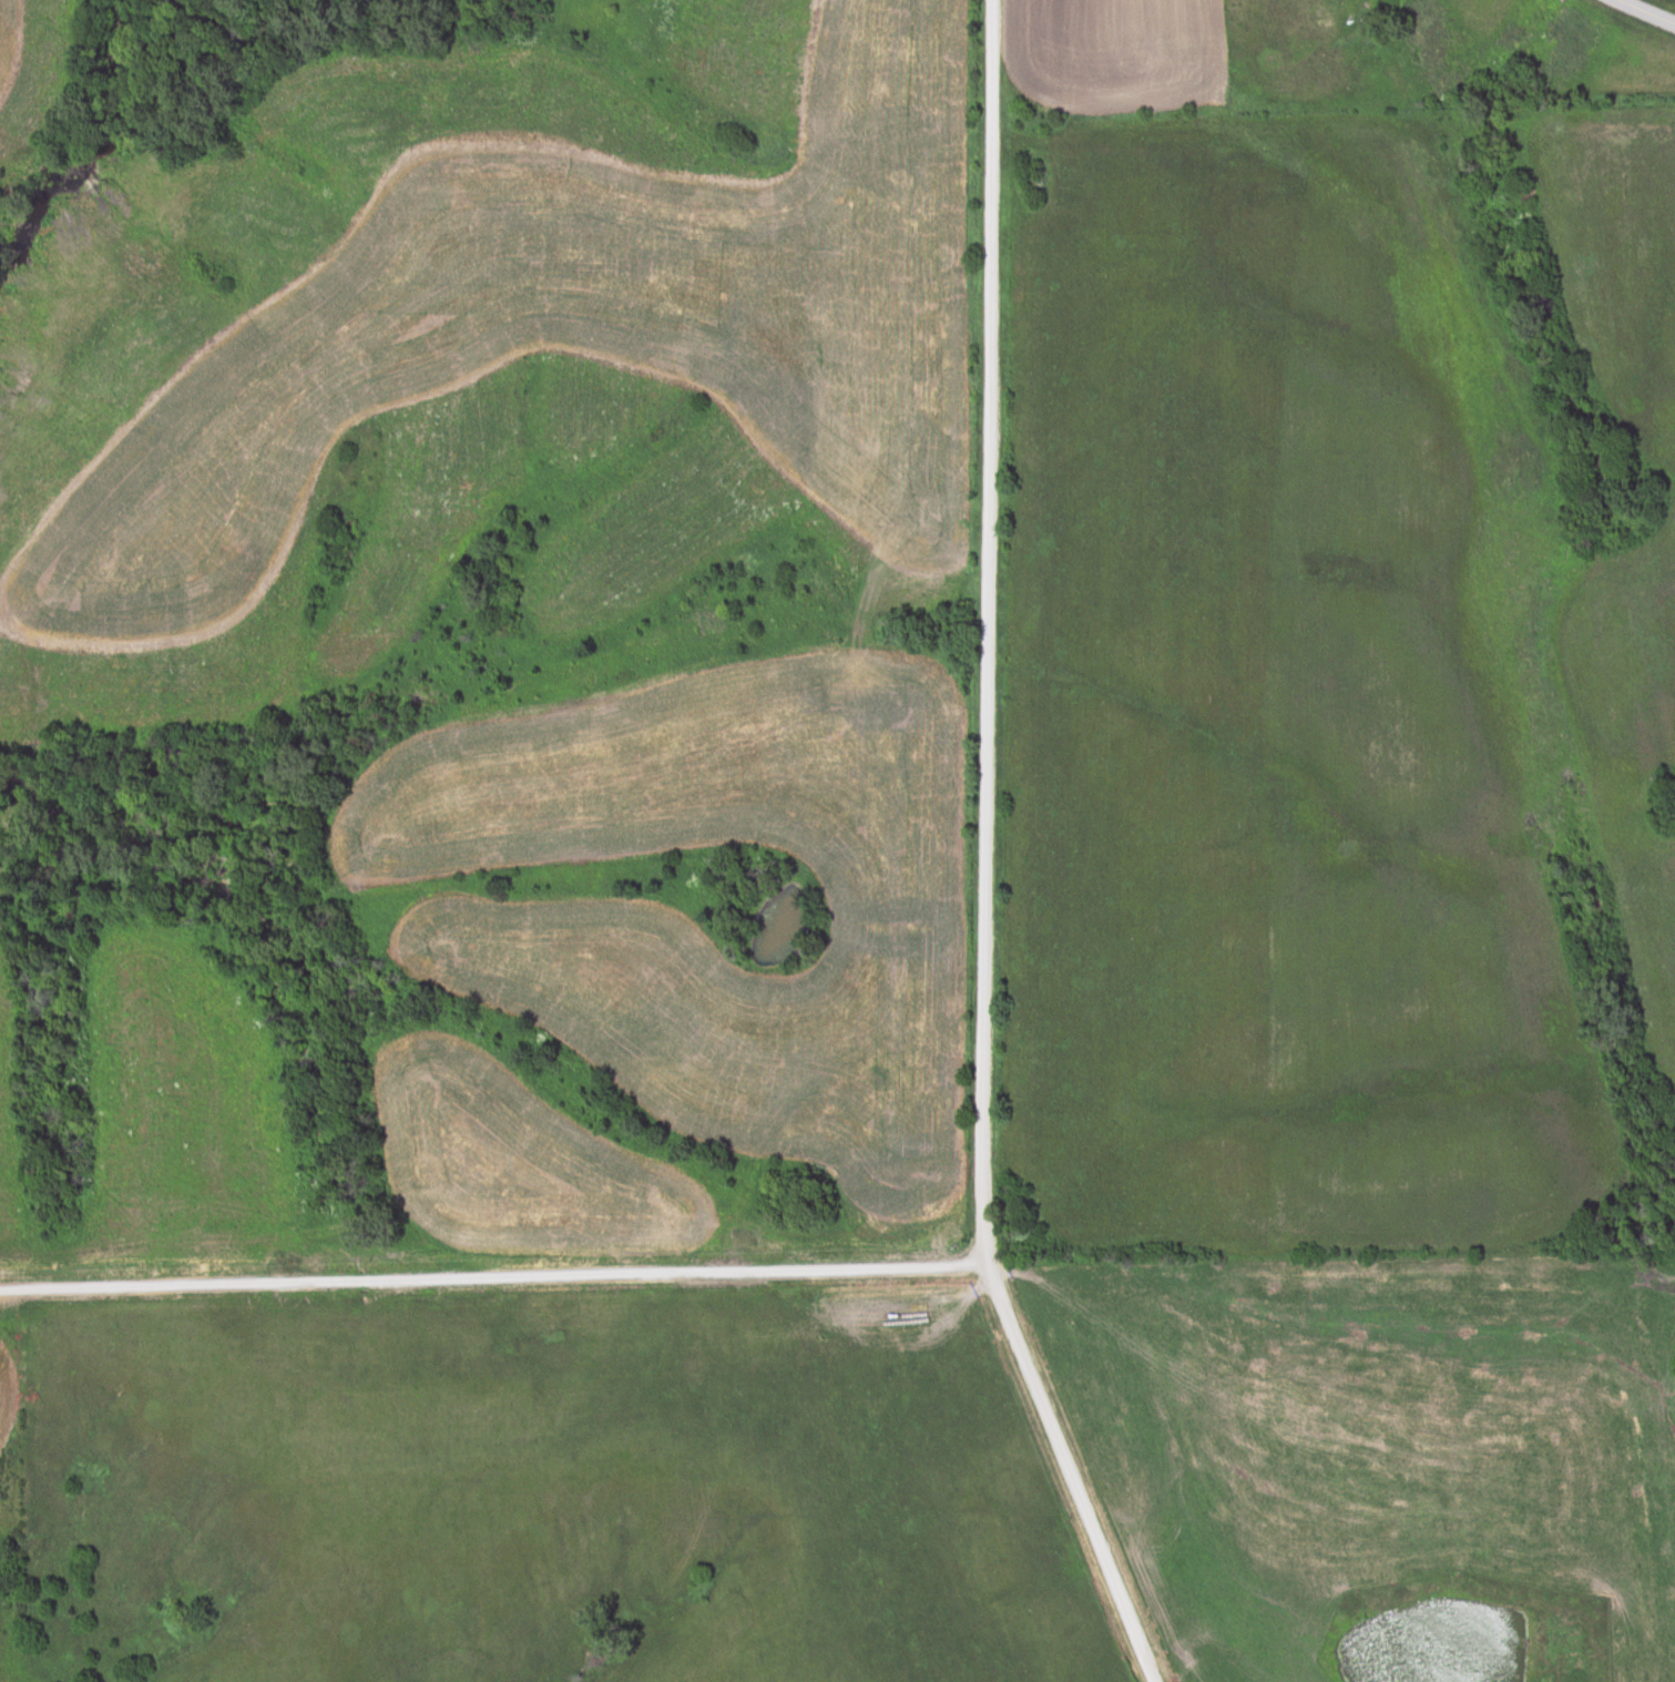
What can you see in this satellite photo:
road: (1654, 8)
road: (982, 856)
road: (493, 1251)

